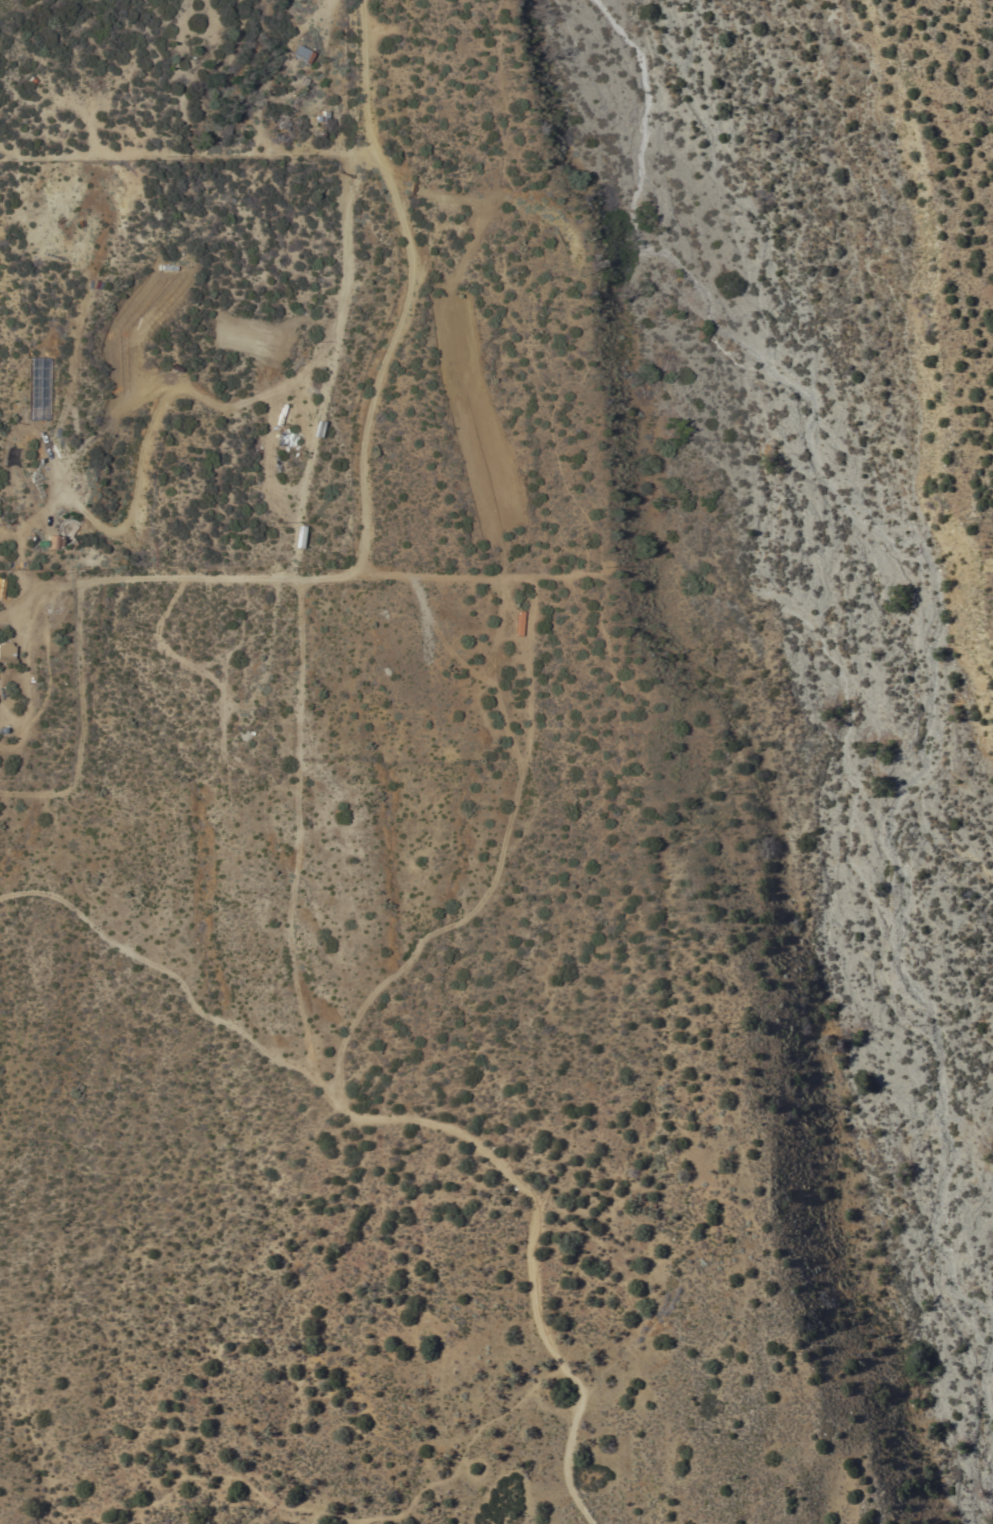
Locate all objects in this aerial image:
building: (300, 55)
road: (372, 396)
road: (300, 523)
road: (42, 591)
building: (5, 653)
road: (492, 677)
road: (299, 829)
road: (424, 939)
road: (530, 1238)

